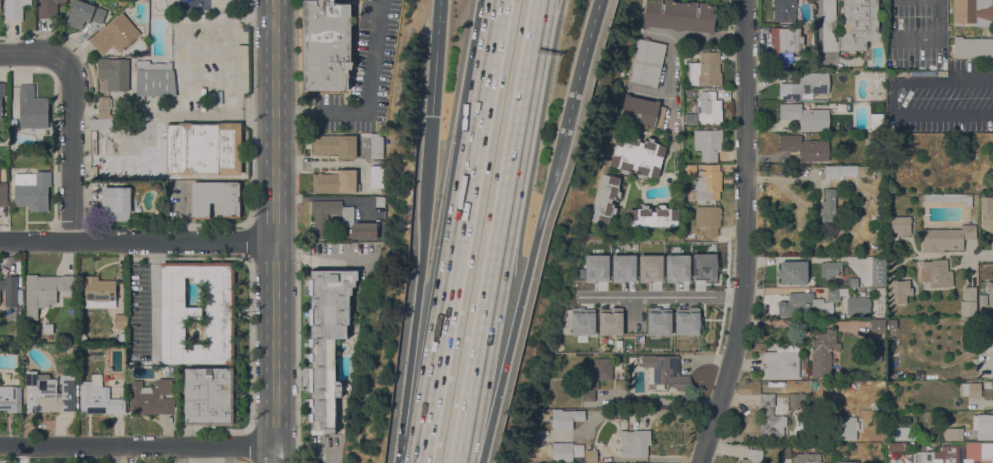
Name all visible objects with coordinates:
building: (0, 5)
building: (49, 8)
building: (15, 9)
building: (784, 10)
building: (973, 12)
building: (84, 14)
building: (680, 15)
building: (851, 25)
building: (765, 30)
building: (115, 34)
building: (787, 40)
road: (915, 41)
building: (326, 45)
road: (673, 46)
building: (973, 47)
road: (492, 48)
road: (32, 53)
building: (686, 55)
road: (438, 57)
building: (797, 60)
building: (647, 62)
road: (579, 67)
building: (705, 70)
building: (115, 73)
building: (879, 78)
building: (155, 79)
building: (805, 86)
building: (723, 93)
building: (1, 96)
road: (366, 99)
road: (943, 104)
building: (104, 107)
building: (842, 107)
building: (707, 108)
building: (30, 110)
building: (642, 113)
traffic signals: (436, 115)
building: (806, 115)
building: (691, 118)
building: (877, 121)
building: (100, 124)
building: (708, 143)
building: (100, 144)
building: (335, 145)
building: (377, 146)
building: (806, 147)
building: (204, 148)
road: (70, 151)
building: (637, 155)
road: (432, 156)
road: (331, 163)
building: (689, 170)
building: (845, 171)
building: (377, 176)
building: (336, 182)
building: (708, 184)
building: (156, 186)
building: (32, 190)
building: (3, 194)
building: (688, 196)
road: (329, 197)
building: (951, 198)
building: (216, 199)
building: (606, 199)
building: (380, 201)
building: (116, 203)
road: (543, 206)
building: (830, 207)
building: (987, 212)
building: (654, 216)
building: (322, 218)
building: (708, 219)
building: (901, 225)
road: (274, 231)
road: (501, 231)
road: (746, 234)
road: (425, 238)
building: (946, 238)
road: (137, 241)
road: (975, 251)
building: (590, 254)
road: (322, 258)
building: (626, 263)
building: (704, 267)
building: (596, 268)
building: (649, 268)
building: (676, 268)
building: (830, 269)
building: (879, 271)
building: (793, 272)
building: (937, 273)
road: (451, 280)
building: (854, 282)
building: (696, 288)
building: (12, 290)
building: (844, 290)
building: (990, 290)
building: (45, 291)
building: (898, 291)
building: (99, 292)
building: (970, 293)
building: (833, 294)
road: (663, 296)
building: (983, 300)
building: (808, 305)
building: (857, 306)
building: (968, 308)
building: (198, 312)
building: (121, 321)
building: (582, 321)
building: (609, 321)
building: (658, 321)
building: (686, 321)
building: (878, 326)
building: (48, 329)
building: (327, 340)
building: (823, 353)
building: (782, 362)
road: (408, 370)
building: (165, 371)
building: (665, 371)
road: (501, 372)
building: (935, 373)
building: (595, 377)
building: (987, 384)
building: (971, 389)
building: (989, 392)
building: (49, 393)
building: (208, 396)
building: (151, 397)
building: (10, 398)
building: (98, 398)
road: (662, 400)
building: (795, 400)
building: (770, 417)
building: (566, 418)
building: (983, 426)
building: (850, 428)
building: (905, 433)
building: (952, 434)
building: (634, 443)
road: (137, 445)
building: (896, 446)
building: (565, 451)
road: (302, 452)
building: (786, 453)
building: (952, 453)
building: (975, 453)
building: (590, 456)
building: (753, 456)
building: (922, 457)
building: (804, 458)
building: (847, 462)

